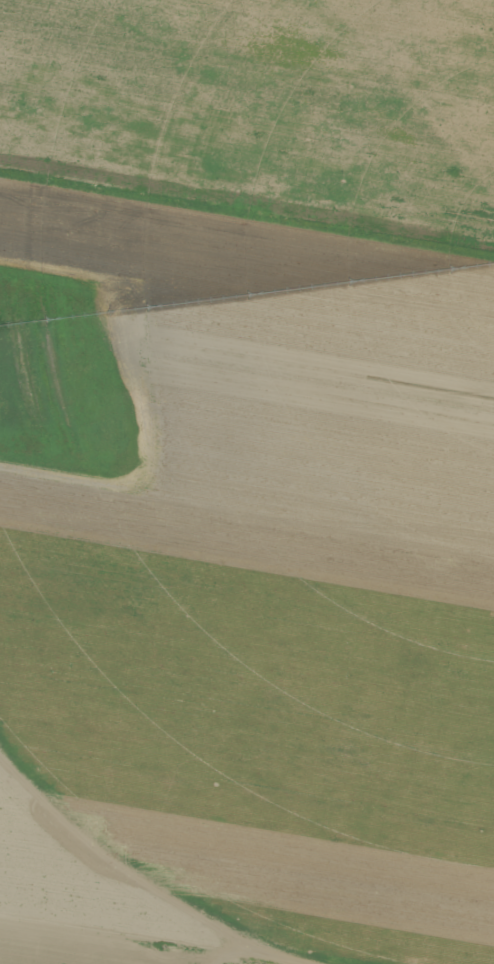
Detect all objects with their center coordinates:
road: (41, 957)

